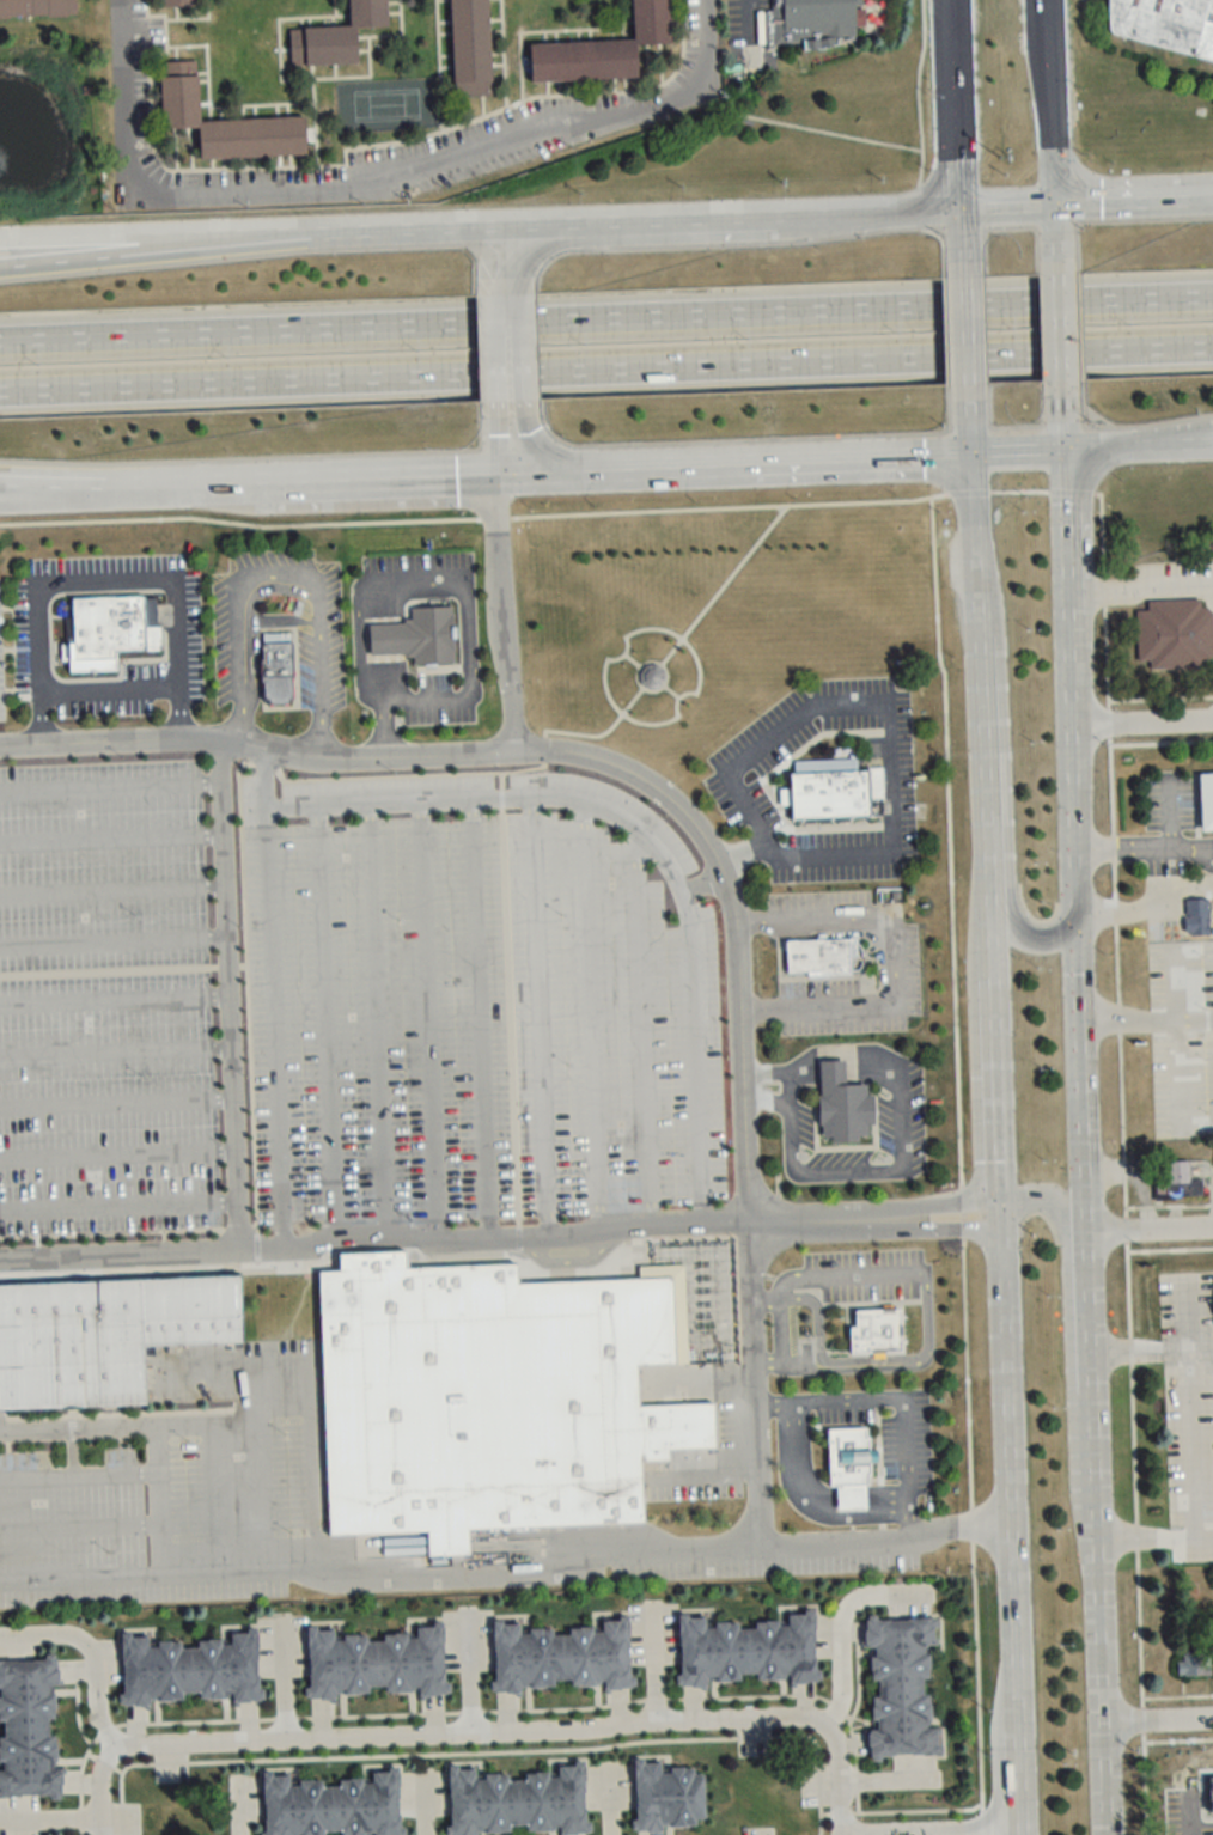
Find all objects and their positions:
building: (177, 1)
road: (392, 1)
road: (341, 2)
building: (36, 6)
road: (193, 10)
road: (176, 11)
road: (392, 11)
road: (342, 14)
road: (750, 14)
road: (193, 17)
road: (621, 17)
road: (494, 18)
road: (675, 18)
road: (331, 19)
road: (309, 20)
road: (443, 20)
road: (627, 20)
building: (810, 20)
road: (300, 22)
building: (1162, 24)
road: (495, 30)
road: (444, 31)
road: (537, 31)
road: (611, 31)
road: (590, 32)
road: (578, 33)
building: (334, 35)
road: (361, 35)
road: (544, 35)
road: (555, 35)
road: (702, 36)
road: (188, 44)
road: (1028, 44)
building: (469, 45)
road: (284, 47)
building: (601, 47)
road: (362, 49)
road: (175, 51)
road: (495, 53)
road: (502, 53)
road: (444, 54)
road: (525, 61)
road: (662, 61)
road: (496, 63)
road: (438, 65)
road: (445, 65)
road: (646, 65)
road: (334, 69)
road: (202, 71)
road: (311, 78)
road: (202, 79)
road: (153, 81)
road: (614, 83)
road: (624, 83)
road: (591, 84)
road: (547, 86)
road: (557, 86)
road: (916, 90)
road: (1053, 100)
road: (203, 102)
road: (959, 102)
road: (156, 103)
road: (261, 103)
park: (386, 103)
road: (482, 103)
road: (276, 108)
road: (287, 108)
road: (254, 109)
road: (455, 109)
road: (220, 110)
road: (242, 110)
road: (312, 114)
building: (224, 118)
road: (823, 130)
road: (310, 133)
road: (384, 142)
road: (175, 147)
road: (190, 147)
road: (279, 159)
road: (289, 159)
road: (244, 160)
road: (257, 160)
road: (212, 161)
road: (223, 161)
road: (342, 184)
road: (1135, 197)
traffic signals: (1057, 202)
road: (1008, 203)
traffic signals: (961, 205)
road: (578, 220)
road: (97, 236)
road: (1059, 237)
road: (962, 242)
road: (549, 246)
road: (98, 256)
road: (1148, 300)
road: (541, 322)
road: (1063, 329)
road: (965, 334)
road: (508, 355)
road: (606, 373)
road: (1067, 416)
road: (968, 420)
road: (513, 439)
road: (1141, 443)
traffic signals: (1069, 447)
road: (1019, 449)
traffic signals: (969, 451)
road: (742, 461)
road: (395, 474)
road: (99, 475)
road: (237, 477)
road: (99, 481)
road: (391, 523)
road: (1071, 530)
road: (280, 573)
road: (105, 578)
road: (1142, 590)
road: (504, 610)
road: (250, 620)
building: (111, 626)
building: (1172, 635)
building: (419, 636)
road: (383, 639)
road: (678, 639)
road: (630, 660)
road: (470, 665)
road: (639, 666)
building: (280, 673)
building: (648, 677)
road: (109, 690)
road: (671, 693)
road: (889, 718)
road: (1142, 721)
road: (980, 724)
road: (234, 726)
road: (319, 737)
road: (110, 785)
building: (831, 793)
building: (1205, 803)
road: (1168, 812)
road: (1111, 821)
road: (1006, 831)
road: (697, 834)
road: (111, 839)
road: (651, 841)
road: (1122, 848)
road: (1190, 848)
road: (739, 854)
road: (1200, 859)
road: (112, 886)
traffic signals: (1078, 896)
road: (1152, 910)
building: (1195, 917)
road: (756, 922)
road: (114, 944)
building: (816, 958)
road: (892, 962)
road: (228, 998)
road: (115, 1001)
road: (274, 1001)
road: (761, 1010)
road: (535, 1018)
road: (592, 1018)
road: (481, 1019)
road: (1147, 1020)
road: (429, 1022)
road: (380, 1024)
road: (327, 1025)
road: (645, 1030)
road: (1177, 1037)
road: (116, 1051)
road: (852, 1051)
road: (846, 1069)
road: (766, 1073)
road: (790, 1085)
road: (767, 1098)
road: (116, 1103)
building: (843, 1104)
road: (994, 1108)
road: (117, 1152)
road: (957, 1165)
road: (854, 1171)
building: (1177, 1173)
road: (872, 1205)
road: (118, 1206)
traffic signals: (999, 1219)
road: (1086, 1225)
road: (1150, 1232)
road: (873, 1234)
road: (374, 1246)
road: (925, 1293)
road: (764, 1294)
road: (793, 1294)
road: (1067, 1313)
road: (816, 1327)
building: (882, 1329)
building: (104, 1334)
road: (1079, 1354)
road: (1201, 1354)
road: (786, 1364)
road: (251, 1391)
road: (306, 1398)
building: (490, 1400)
road: (902, 1401)
road: (203, 1421)
road: (1191, 1446)
building: (853, 1467)
road: (78, 1479)
road: (1006, 1485)
road: (816, 1493)
road: (158, 1501)
road: (807, 1501)
road: (79, 1529)
road: (1203, 1535)
road: (506, 1563)
road: (840, 1622)
building: (746, 1647)
road: (91, 1653)
building: (560, 1656)
road: (656, 1659)
building: (374, 1660)
building: (1193, 1664)
building: (189, 1668)
road: (470, 1671)
road: (282, 1681)
building: (900, 1684)
road: (1157, 1721)
building: (29, 1726)
road: (486, 1731)
road: (1017, 1787)
building: (665, 1797)
building: (517, 1802)
building: (331, 1805)
road: (421, 1805)
road: (239, 1810)
road: (50, 1817)
road: (929, 1825)
road: (1018, 1830)
road: (1188, 1830)

